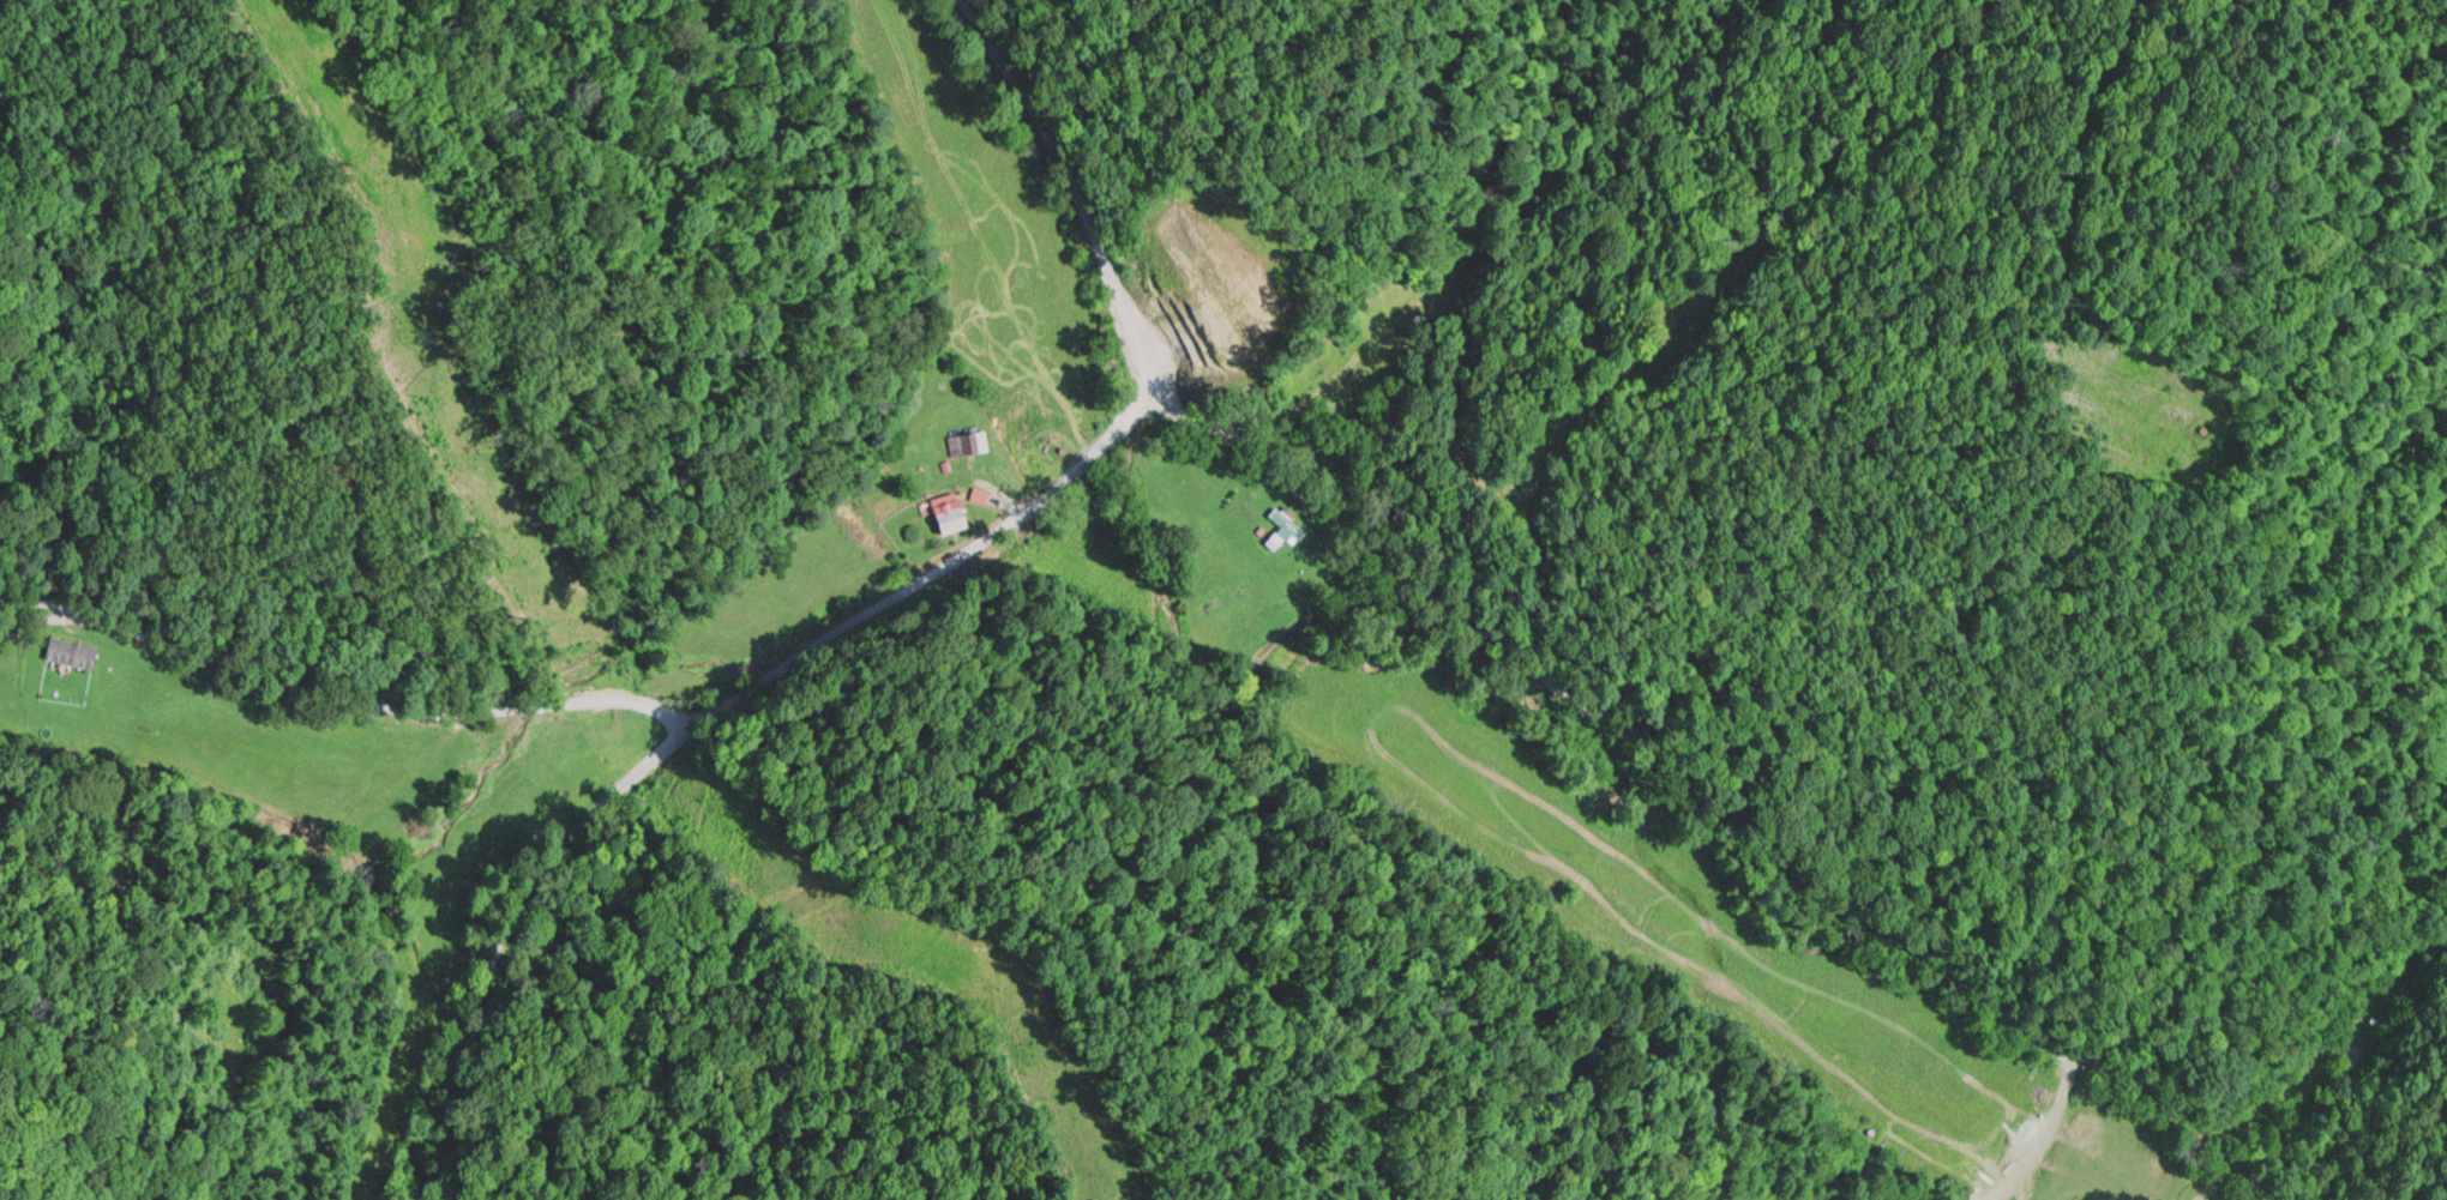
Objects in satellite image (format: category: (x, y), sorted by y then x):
road: (1081, 193)
road: (1135, 412)
building: (967, 445)
building: (956, 513)
building: (1293, 524)
road: (939, 569)
road: (377, 632)
building: (78, 653)
road: (1713, 803)
road: (525, 915)

